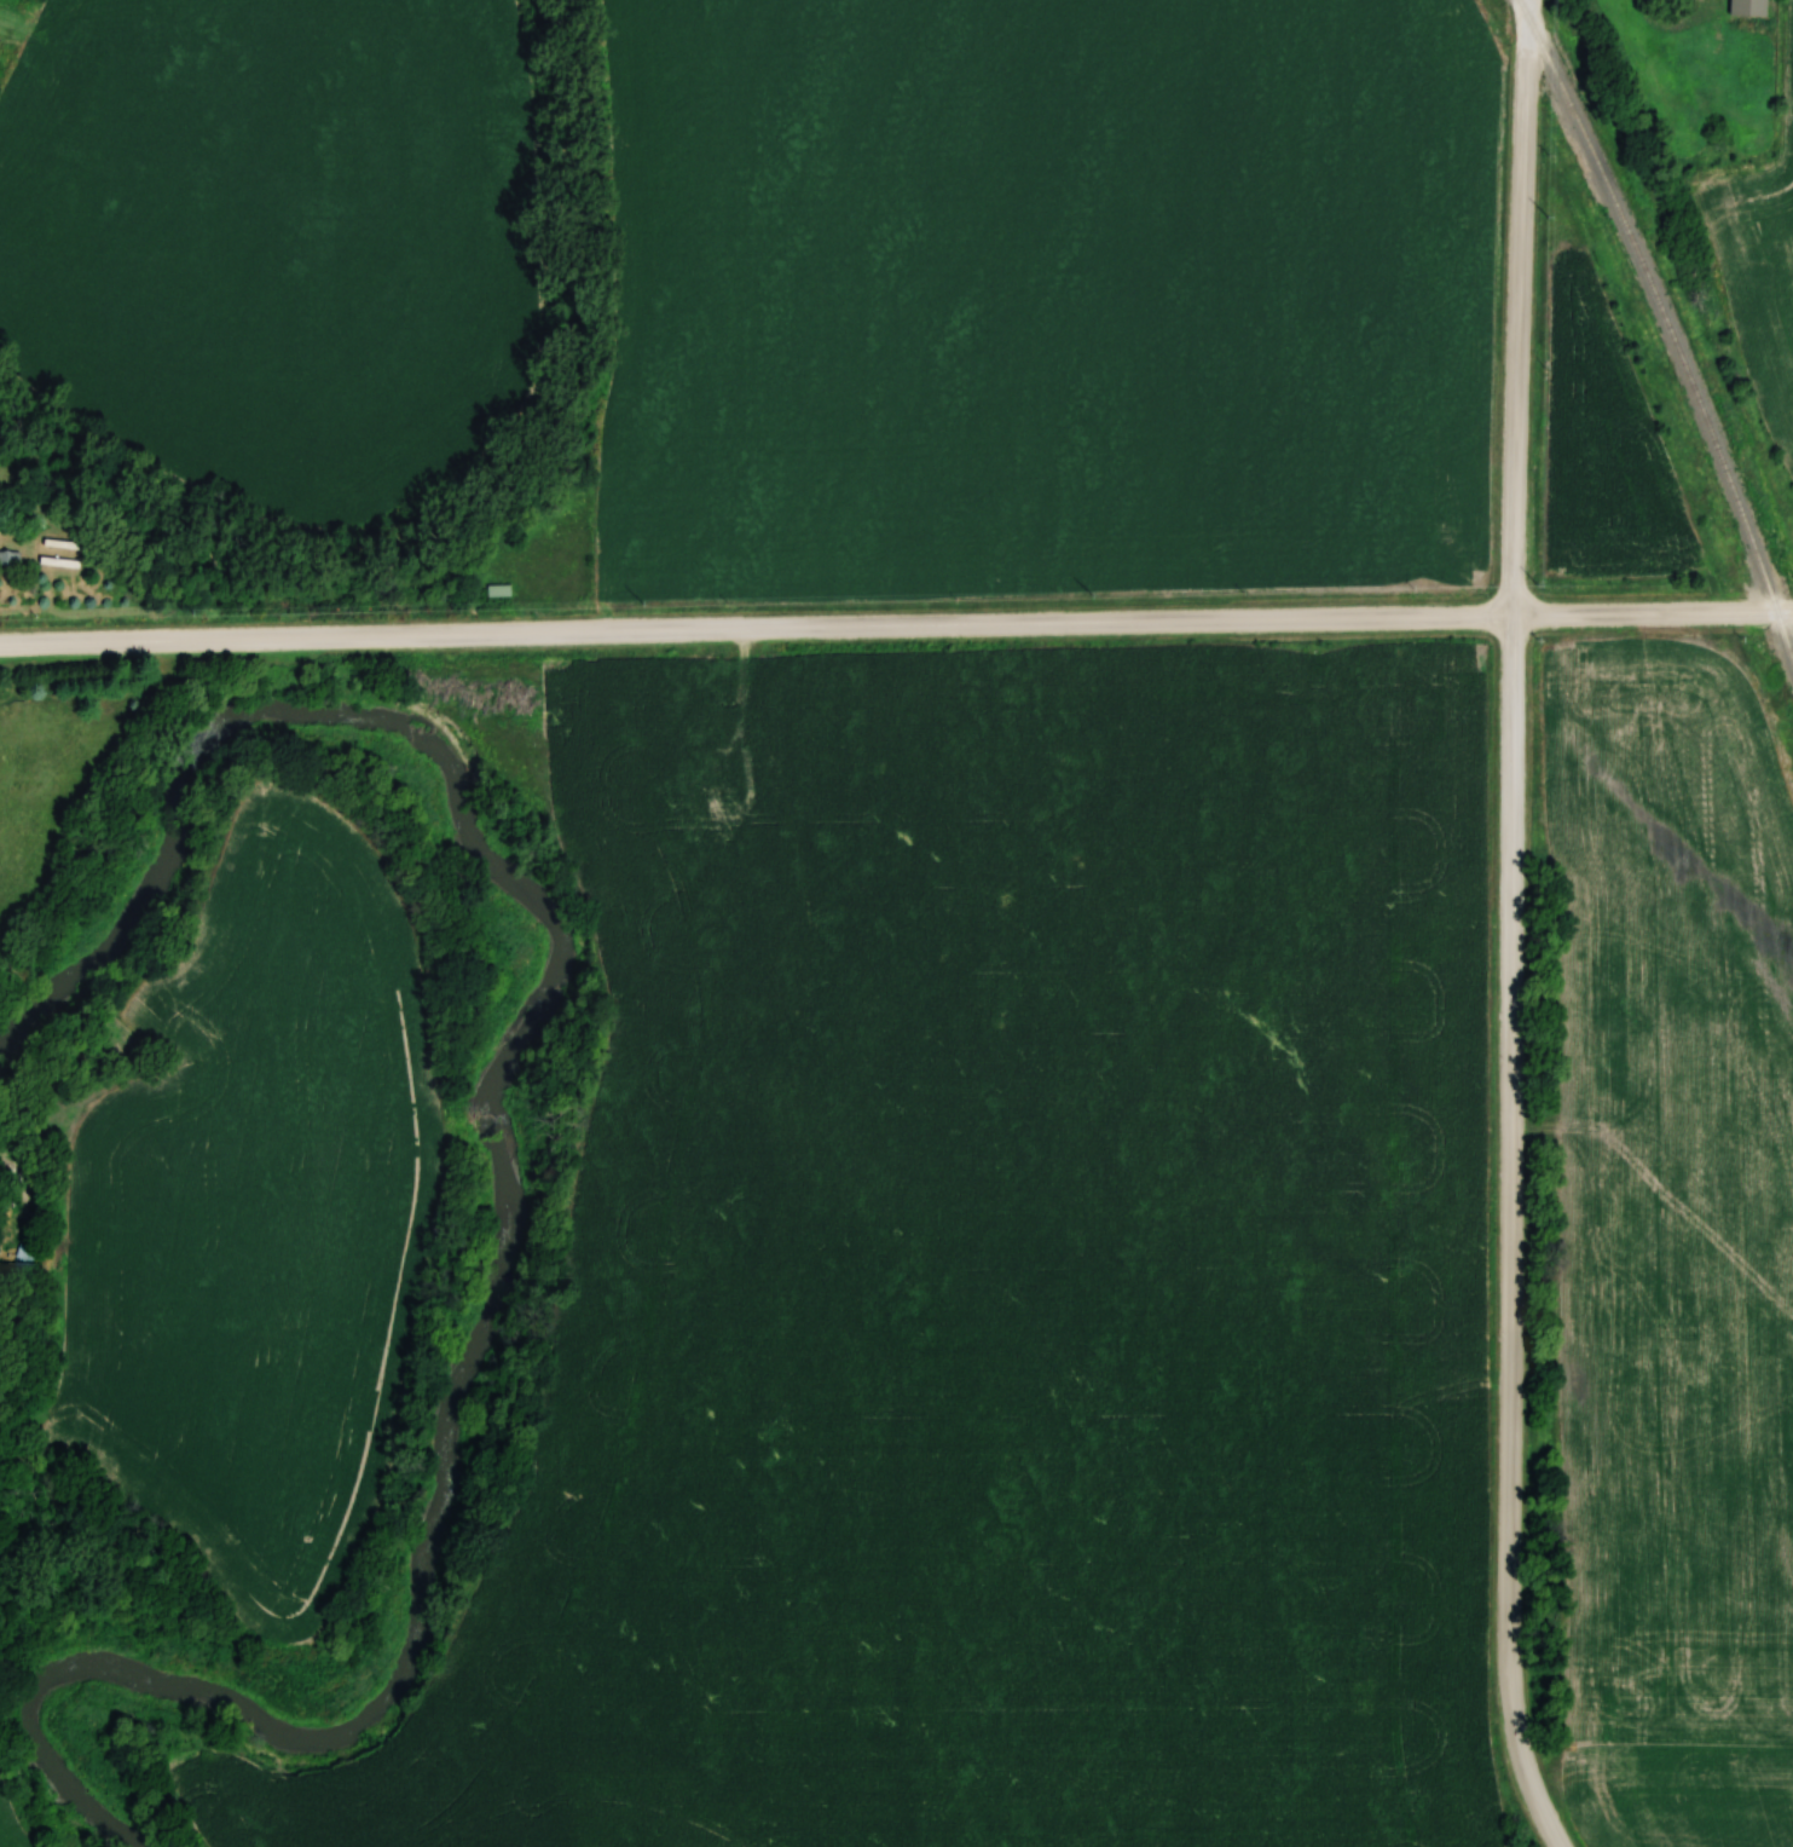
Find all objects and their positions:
building: (1746, 8)
railway: (1560, 85)
road: (1517, 306)
railway: (1690, 388)
building: (10, 556)
building: (499, 590)
road: (1783, 608)
road: (1643, 612)
road: (756, 628)
railway: (1783, 639)
building: (708, 716)
building: (774, 764)
building: (734, 791)
building: (677, 815)
river: (520, 1174)
road: (1511, 1235)
building: (24, 1259)

